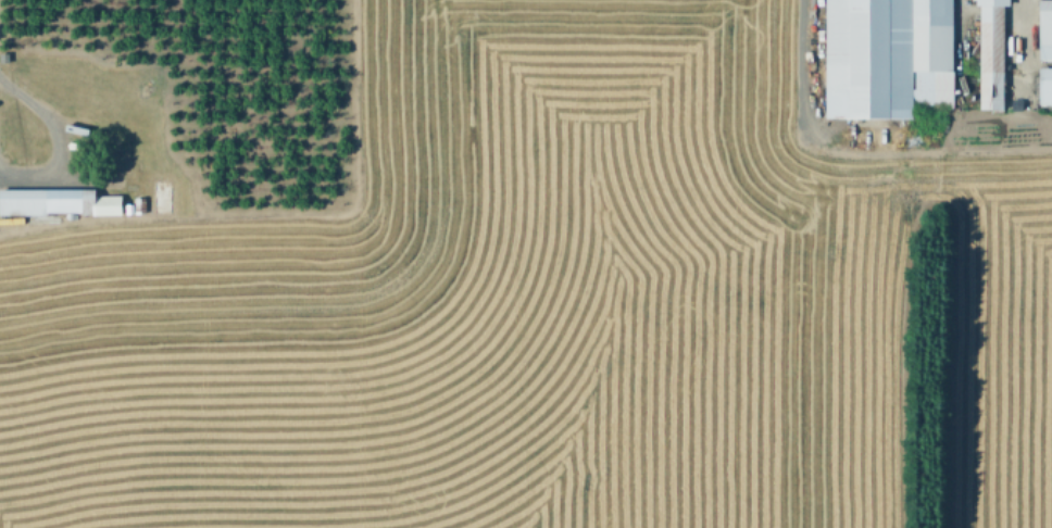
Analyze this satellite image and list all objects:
building: (1044, 34)
road: (1026, 49)
building: (990, 54)
building: (889, 56)
road: (807, 73)
building: (1044, 89)
road: (54, 141)
building: (165, 197)
building: (40, 200)
building: (101, 203)
crop: (548, 305)

